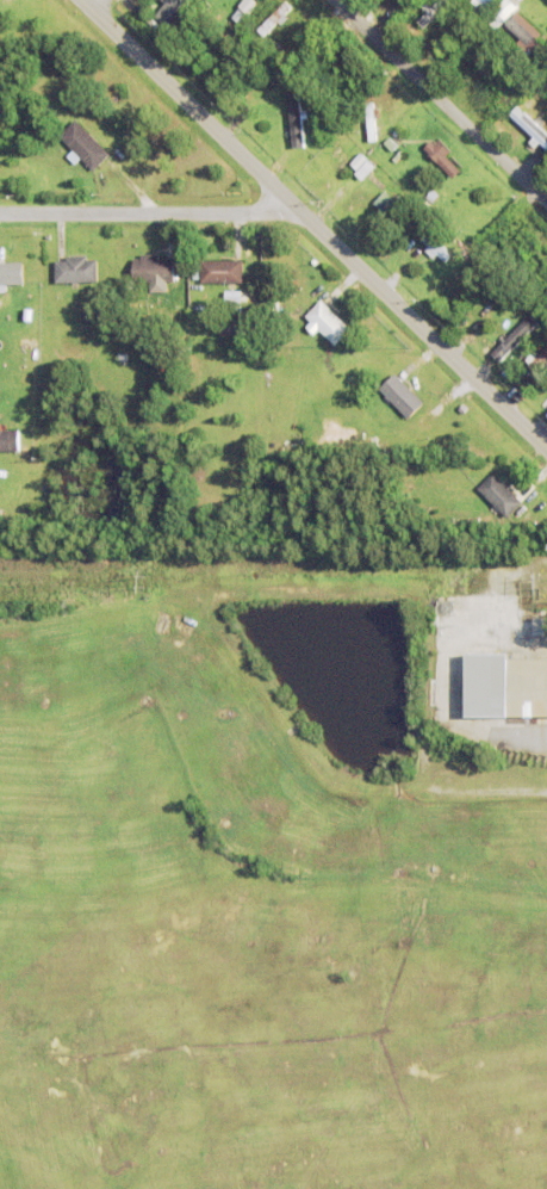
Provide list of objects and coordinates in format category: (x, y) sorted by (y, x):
building: (485, 2)
road: (95, 4)
building: (506, 7)
building: (172, 10)
building: (431, 12)
building: (241, 14)
building: (275, 17)
building: (493, 20)
building: (527, 35)
building: (495, 62)
road: (441, 99)
building: (527, 117)
building: (297, 119)
building: (373, 120)
building: (391, 143)
building: (82, 145)
building: (443, 157)
building: (359, 161)
building: (366, 169)
building: (421, 182)
building: (433, 197)
building: (386, 203)
road: (151, 211)
road: (315, 222)
building: (436, 243)
building: (498, 243)
building: (530, 249)
building: (154, 268)
building: (75, 270)
building: (222, 271)
building: (11, 273)
building: (272, 305)
building: (87, 316)
building: (328, 322)
building: (515, 337)
building: (24, 342)
building: (122, 357)
building: (536, 360)
building: (402, 396)
building: (10, 440)
building: (501, 495)
building: (540, 625)
building: (505, 685)
building: (502, 720)

